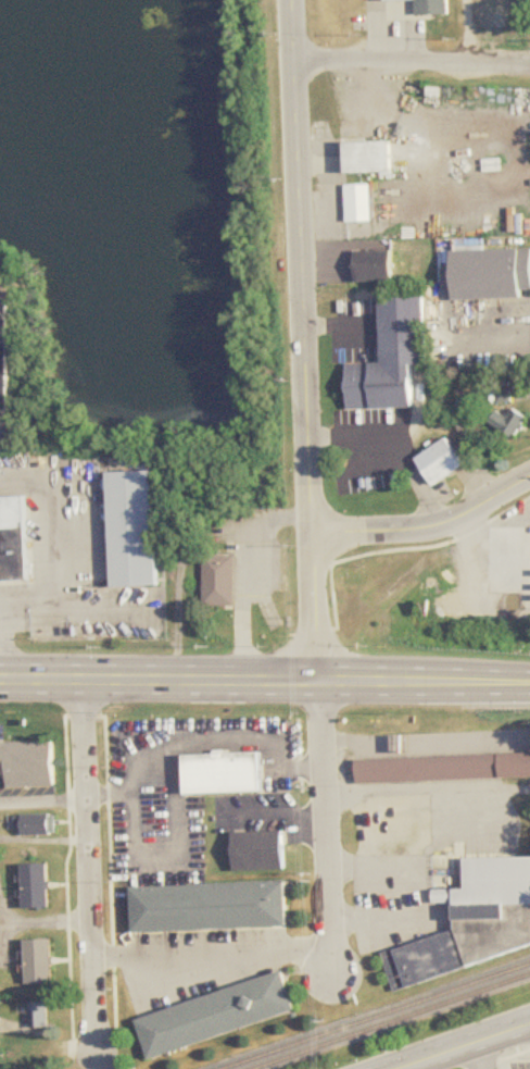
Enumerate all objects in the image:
building: (429, 7)
road: (469, 30)
road: (413, 60)
building: (370, 157)
road: (515, 181)
building: (358, 203)
building: (375, 266)
building: (491, 273)
road: (340, 327)
road: (499, 337)
road: (305, 341)
building: (392, 358)
building: (4, 364)
building: (509, 423)
road: (396, 445)
building: (440, 462)
building: (134, 529)
road: (426, 529)
building: (14, 539)
building: (219, 581)
road: (51, 589)
road: (264, 682)
road: (207, 742)
road: (427, 742)
building: (27, 763)
building: (443, 768)
building: (224, 773)
road: (414, 791)
road: (45, 803)
building: (35, 825)
road: (327, 829)
building: (258, 852)
road: (90, 867)
building: (38, 886)
building: (211, 907)
road: (388, 919)
road: (47, 921)
building: (472, 923)
road: (213, 958)
building: (40, 960)
building: (39, 1015)
building: (217, 1016)
railway: (378, 1017)
railway: (392, 1021)
road: (465, 1046)
road: (478, 1055)

